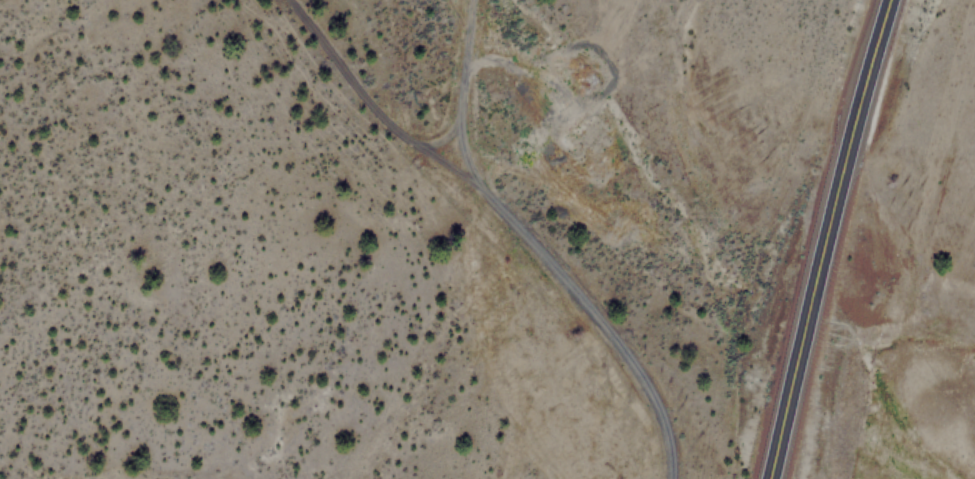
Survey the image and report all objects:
road: (508, 218)
road: (822, 238)

